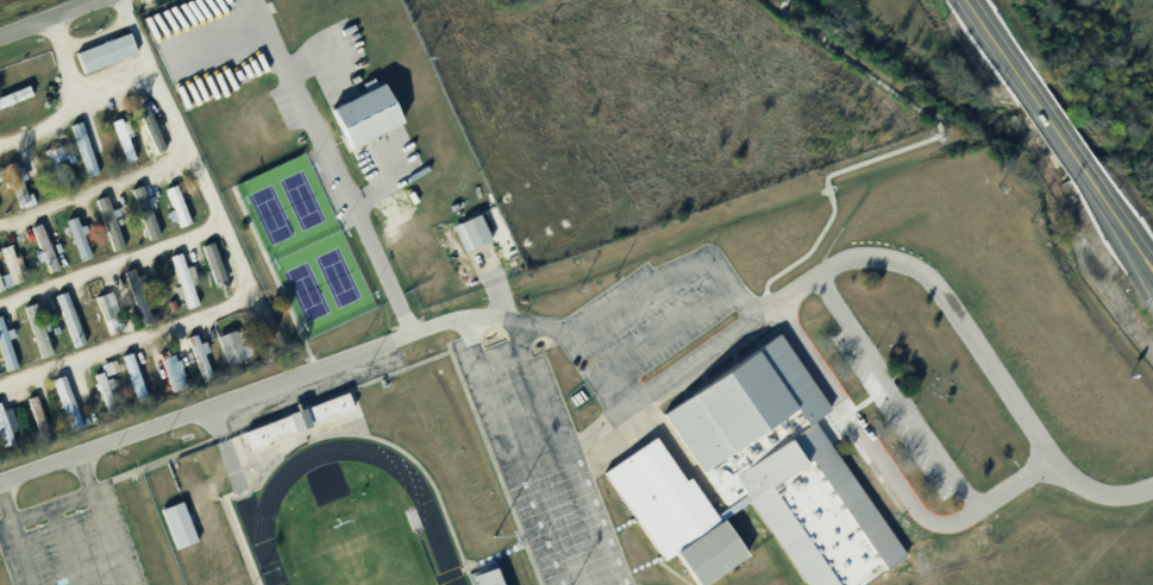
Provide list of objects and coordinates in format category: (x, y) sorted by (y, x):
road: (43, 15)
road: (96, 37)
road: (1001, 49)
building: (100, 59)
road: (64, 61)
building: (12, 101)
road: (77, 108)
building: (359, 124)
road: (1059, 133)
building: (126, 137)
building: (84, 147)
building: (115, 147)
road: (915, 147)
building: (77, 157)
building: (19, 180)
building: (12, 187)
road: (95, 187)
building: (180, 203)
building: (149, 210)
building: (173, 213)
building: (112, 219)
building: (139, 219)
road: (1118, 219)
building: (102, 229)
building: (82, 237)
building: (466, 238)
building: (73, 245)
building: (46, 246)
building: (39, 253)
building: (217, 262)
road: (111, 263)
road: (240, 264)
building: (14, 265)
building: (8, 272)
road: (666, 276)
building: (187, 279)
building: (1, 283)
building: (180, 287)
building: (142, 294)
building: (133, 301)
building: (112, 310)
building: (168, 310)
building: (71, 316)
building: (102, 320)
building: (64, 326)
road: (668, 326)
building: (40, 329)
building: (32, 338)
building: (8, 344)
building: (237, 345)
building: (227, 353)
building: (5, 356)
building: (201, 357)
building: (194, 359)
building: (112, 366)
building: (174, 369)
building: (136, 376)
building: (169, 377)
building: (130, 383)
road: (653, 386)
building: (106, 392)
building: (70, 402)
road: (206, 409)
building: (64, 411)
building: (40, 414)
building: (33, 422)
building: (294, 427)
road: (596, 427)
road: (921, 433)
road: (864, 434)
building: (2, 439)
road: (515, 453)
road: (564, 455)
building: (778, 471)
stadium: (337, 495)
road: (51, 508)
road: (101, 520)
building: (669, 520)
building: (176, 531)
road: (15, 537)
road: (67, 546)
building: (493, 575)

